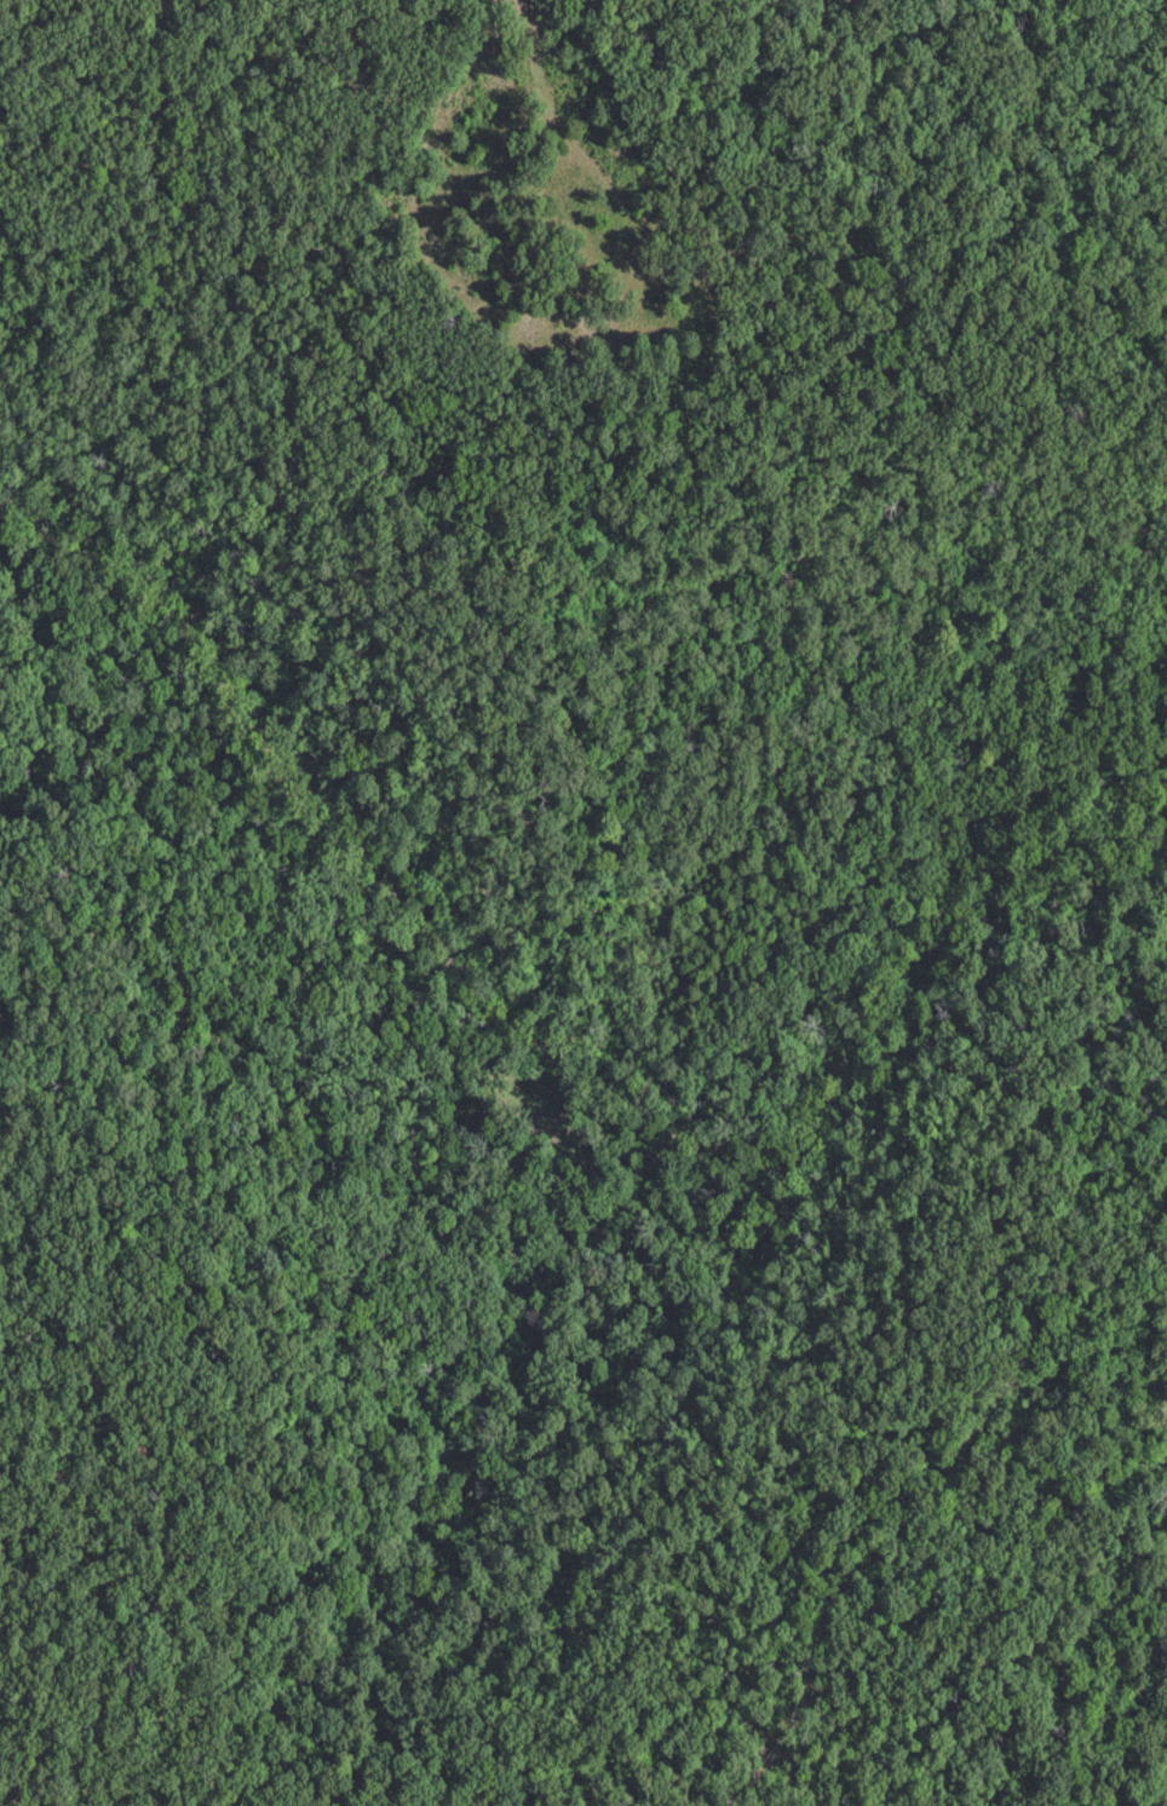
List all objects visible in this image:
road: (910, 1499)

